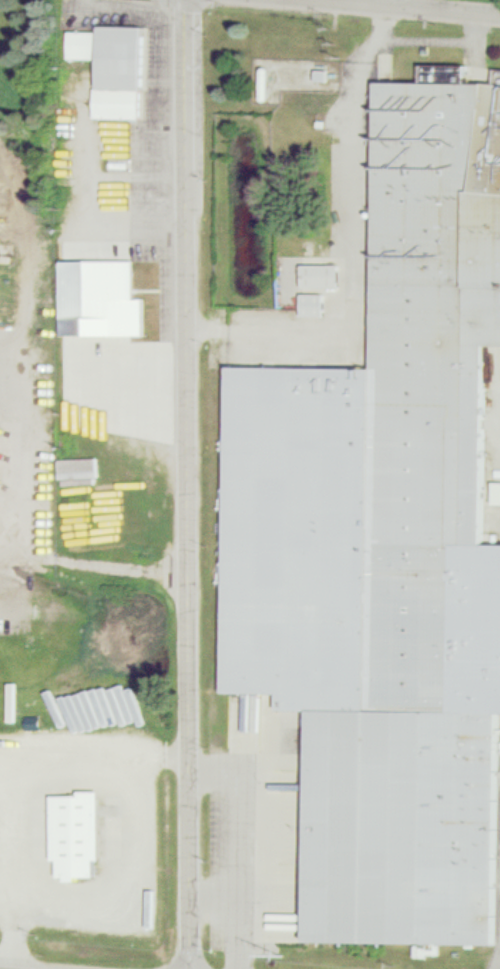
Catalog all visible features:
road: (418, 4)
road: (411, 7)
building: (114, 64)
building: (12, 85)
road: (358, 238)
road: (24, 249)
building: (323, 276)
building: (8, 294)
building: (101, 294)
building: (316, 305)
road: (14, 443)
road: (190, 484)
building: (389, 542)
road: (100, 566)
road: (10, 576)
road: (94, 757)
building: (79, 830)
road: (233, 841)
road: (18, 881)
road: (212, 898)

